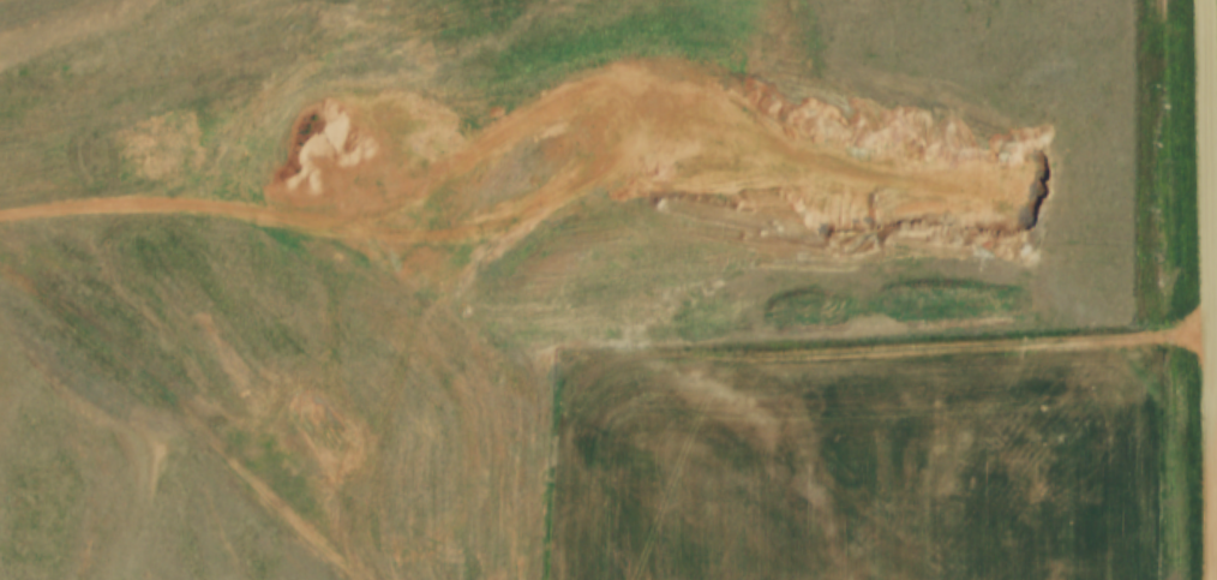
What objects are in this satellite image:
road: (293, 216)
quarry: (413, 255)
road: (1213, 289)
road: (894, 352)

